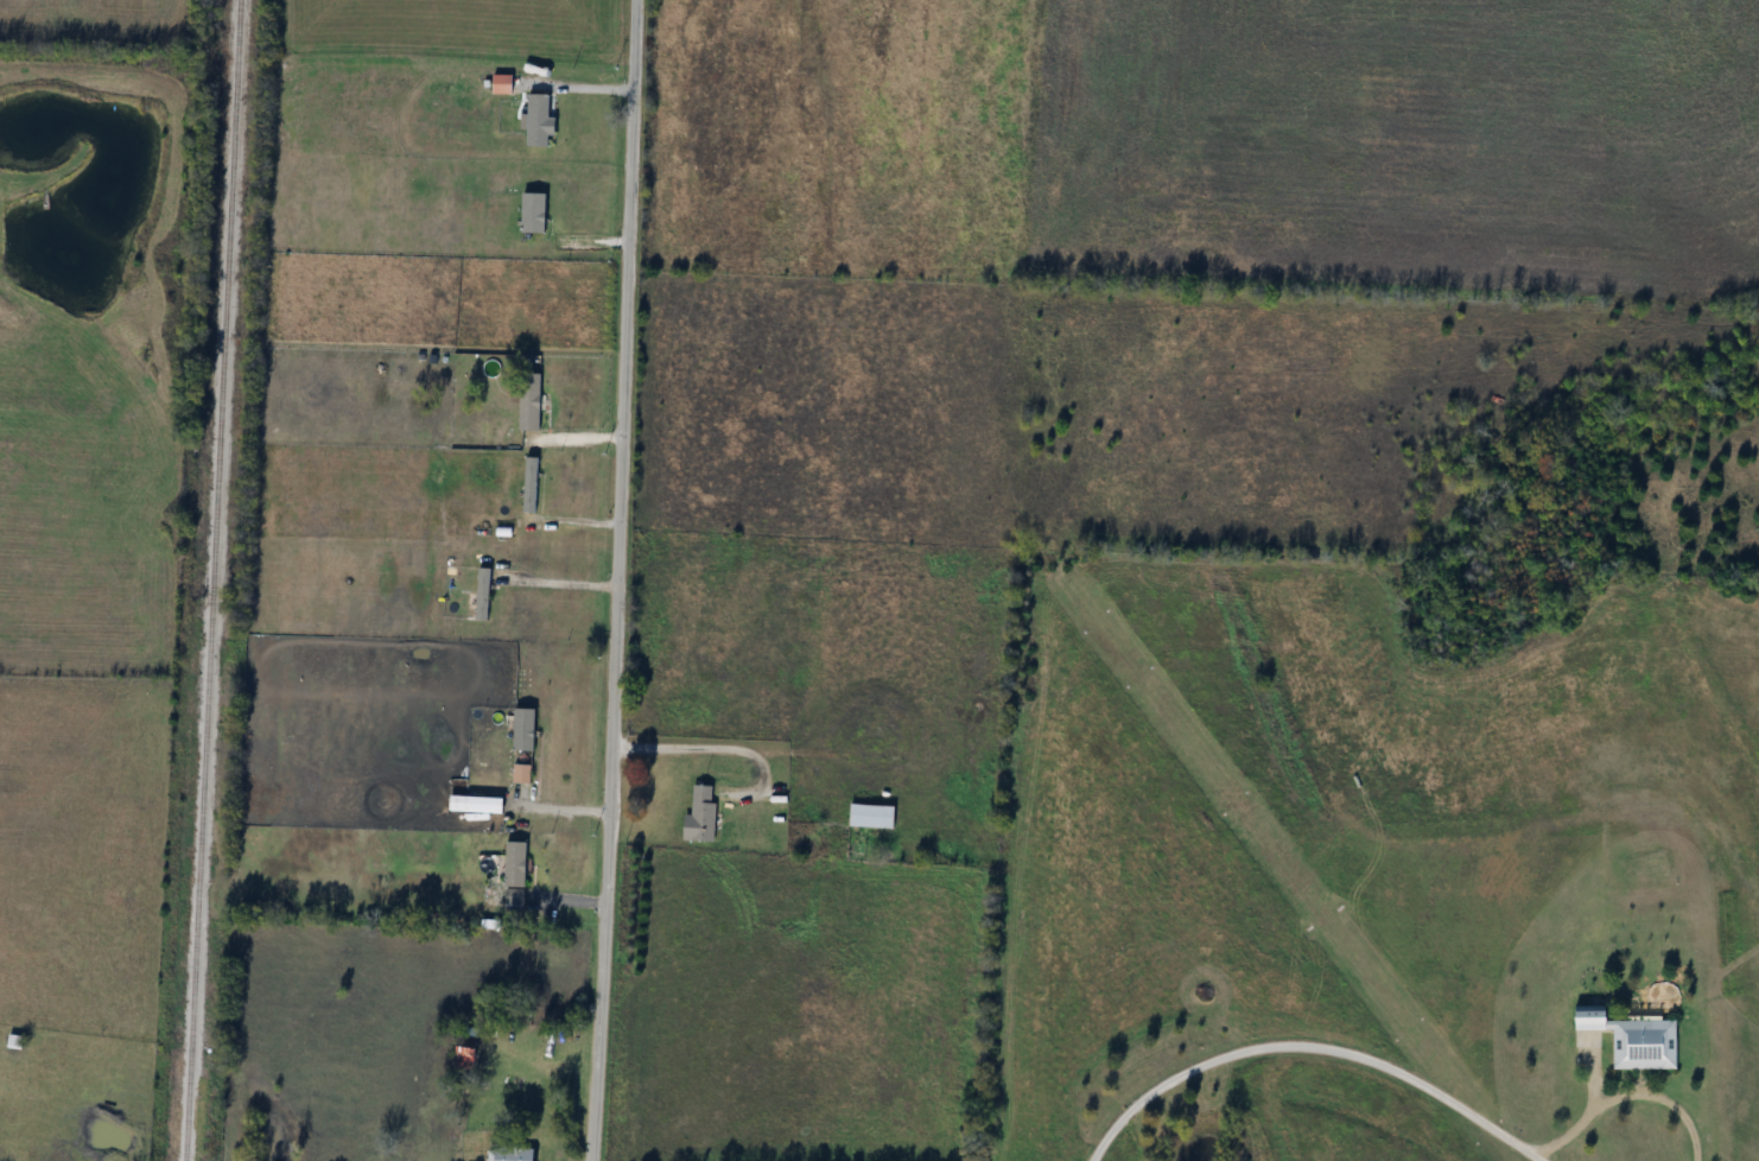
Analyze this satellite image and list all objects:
road: (574, 83)
building: (540, 120)
building: (531, 401)
railway: (209, 579)
road: (559, 580)
road: (616, 580)
road: (713, 747)
building: (703, 816)
building: (872, 816)
building: (516, 874)
building: (1633, 1039)
building: (17, 1042)
road: (1304, 1043)
building: (471, 1047)
road: (1617, 1093)
building: (513, 1155)

